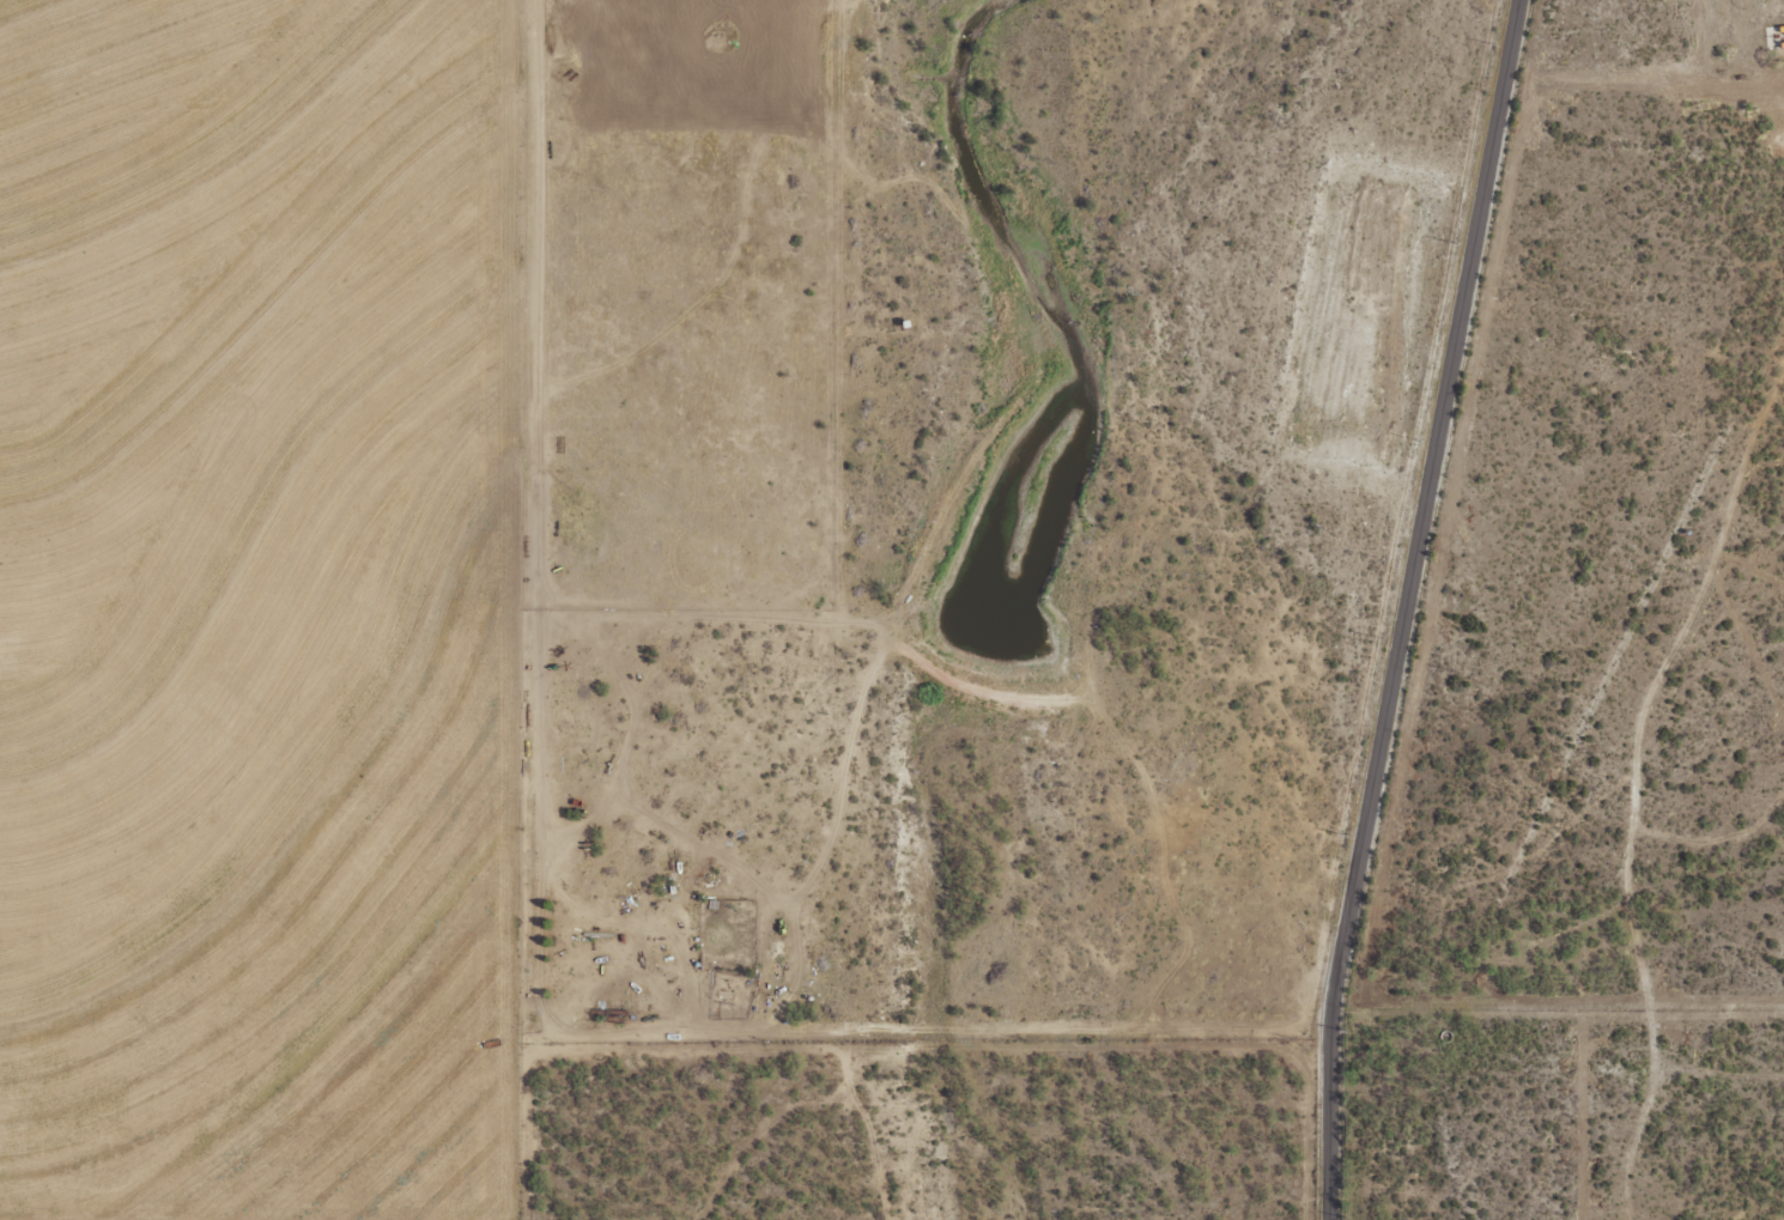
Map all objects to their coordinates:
road: (1398, 607)

